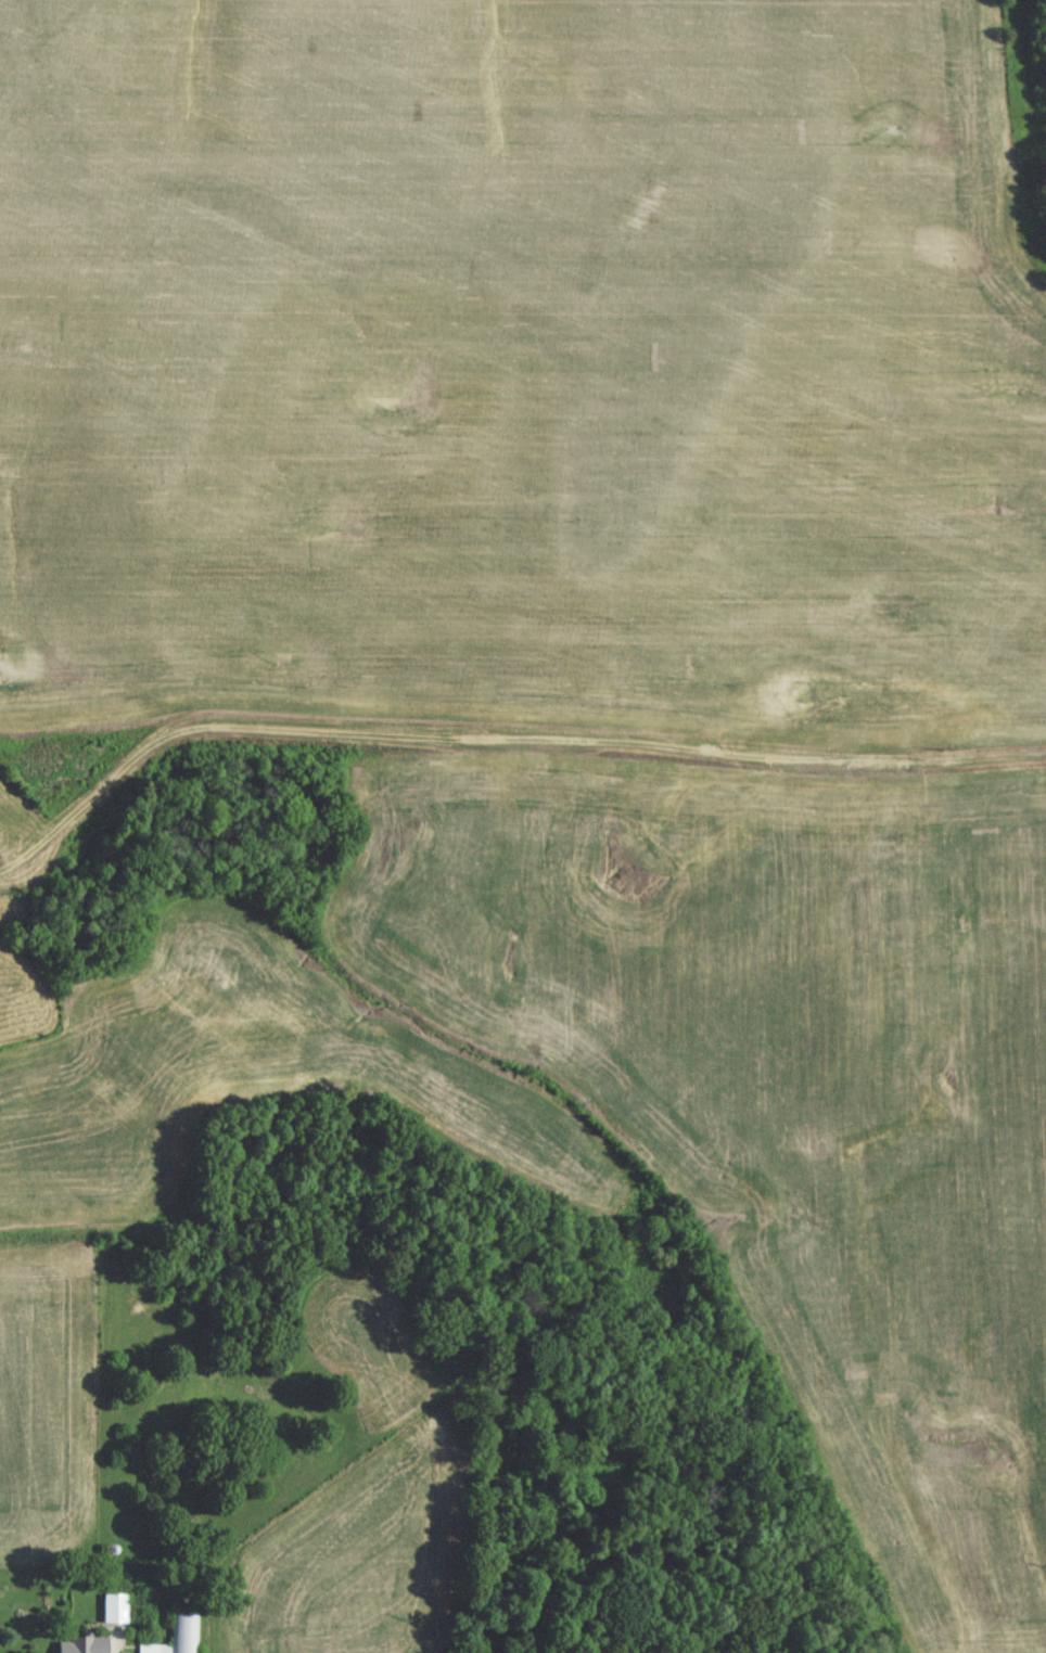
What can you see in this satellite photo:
road: (497, 741)
building: (114, 1614)
building: (180, 1638)
building: (75, 1649)

